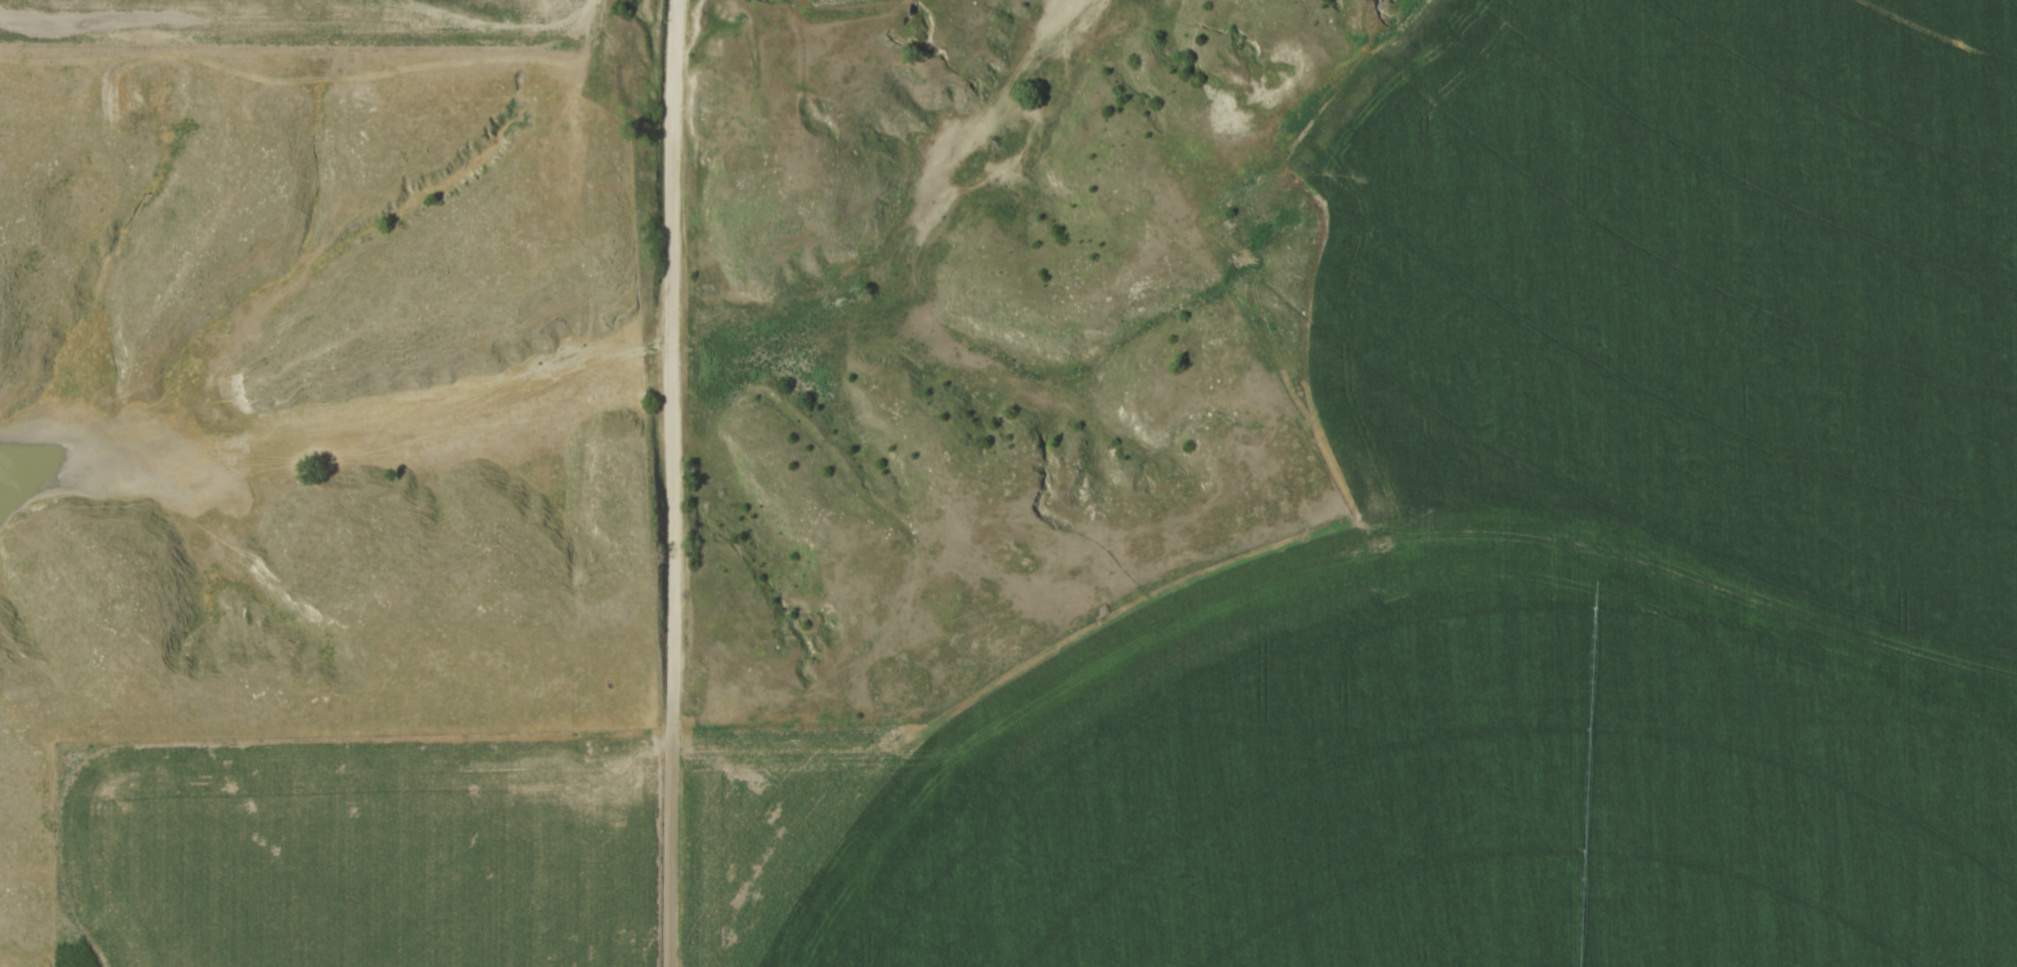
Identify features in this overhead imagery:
crop: (297, 17)
road: (673, 483)
crop: (366, 852)

